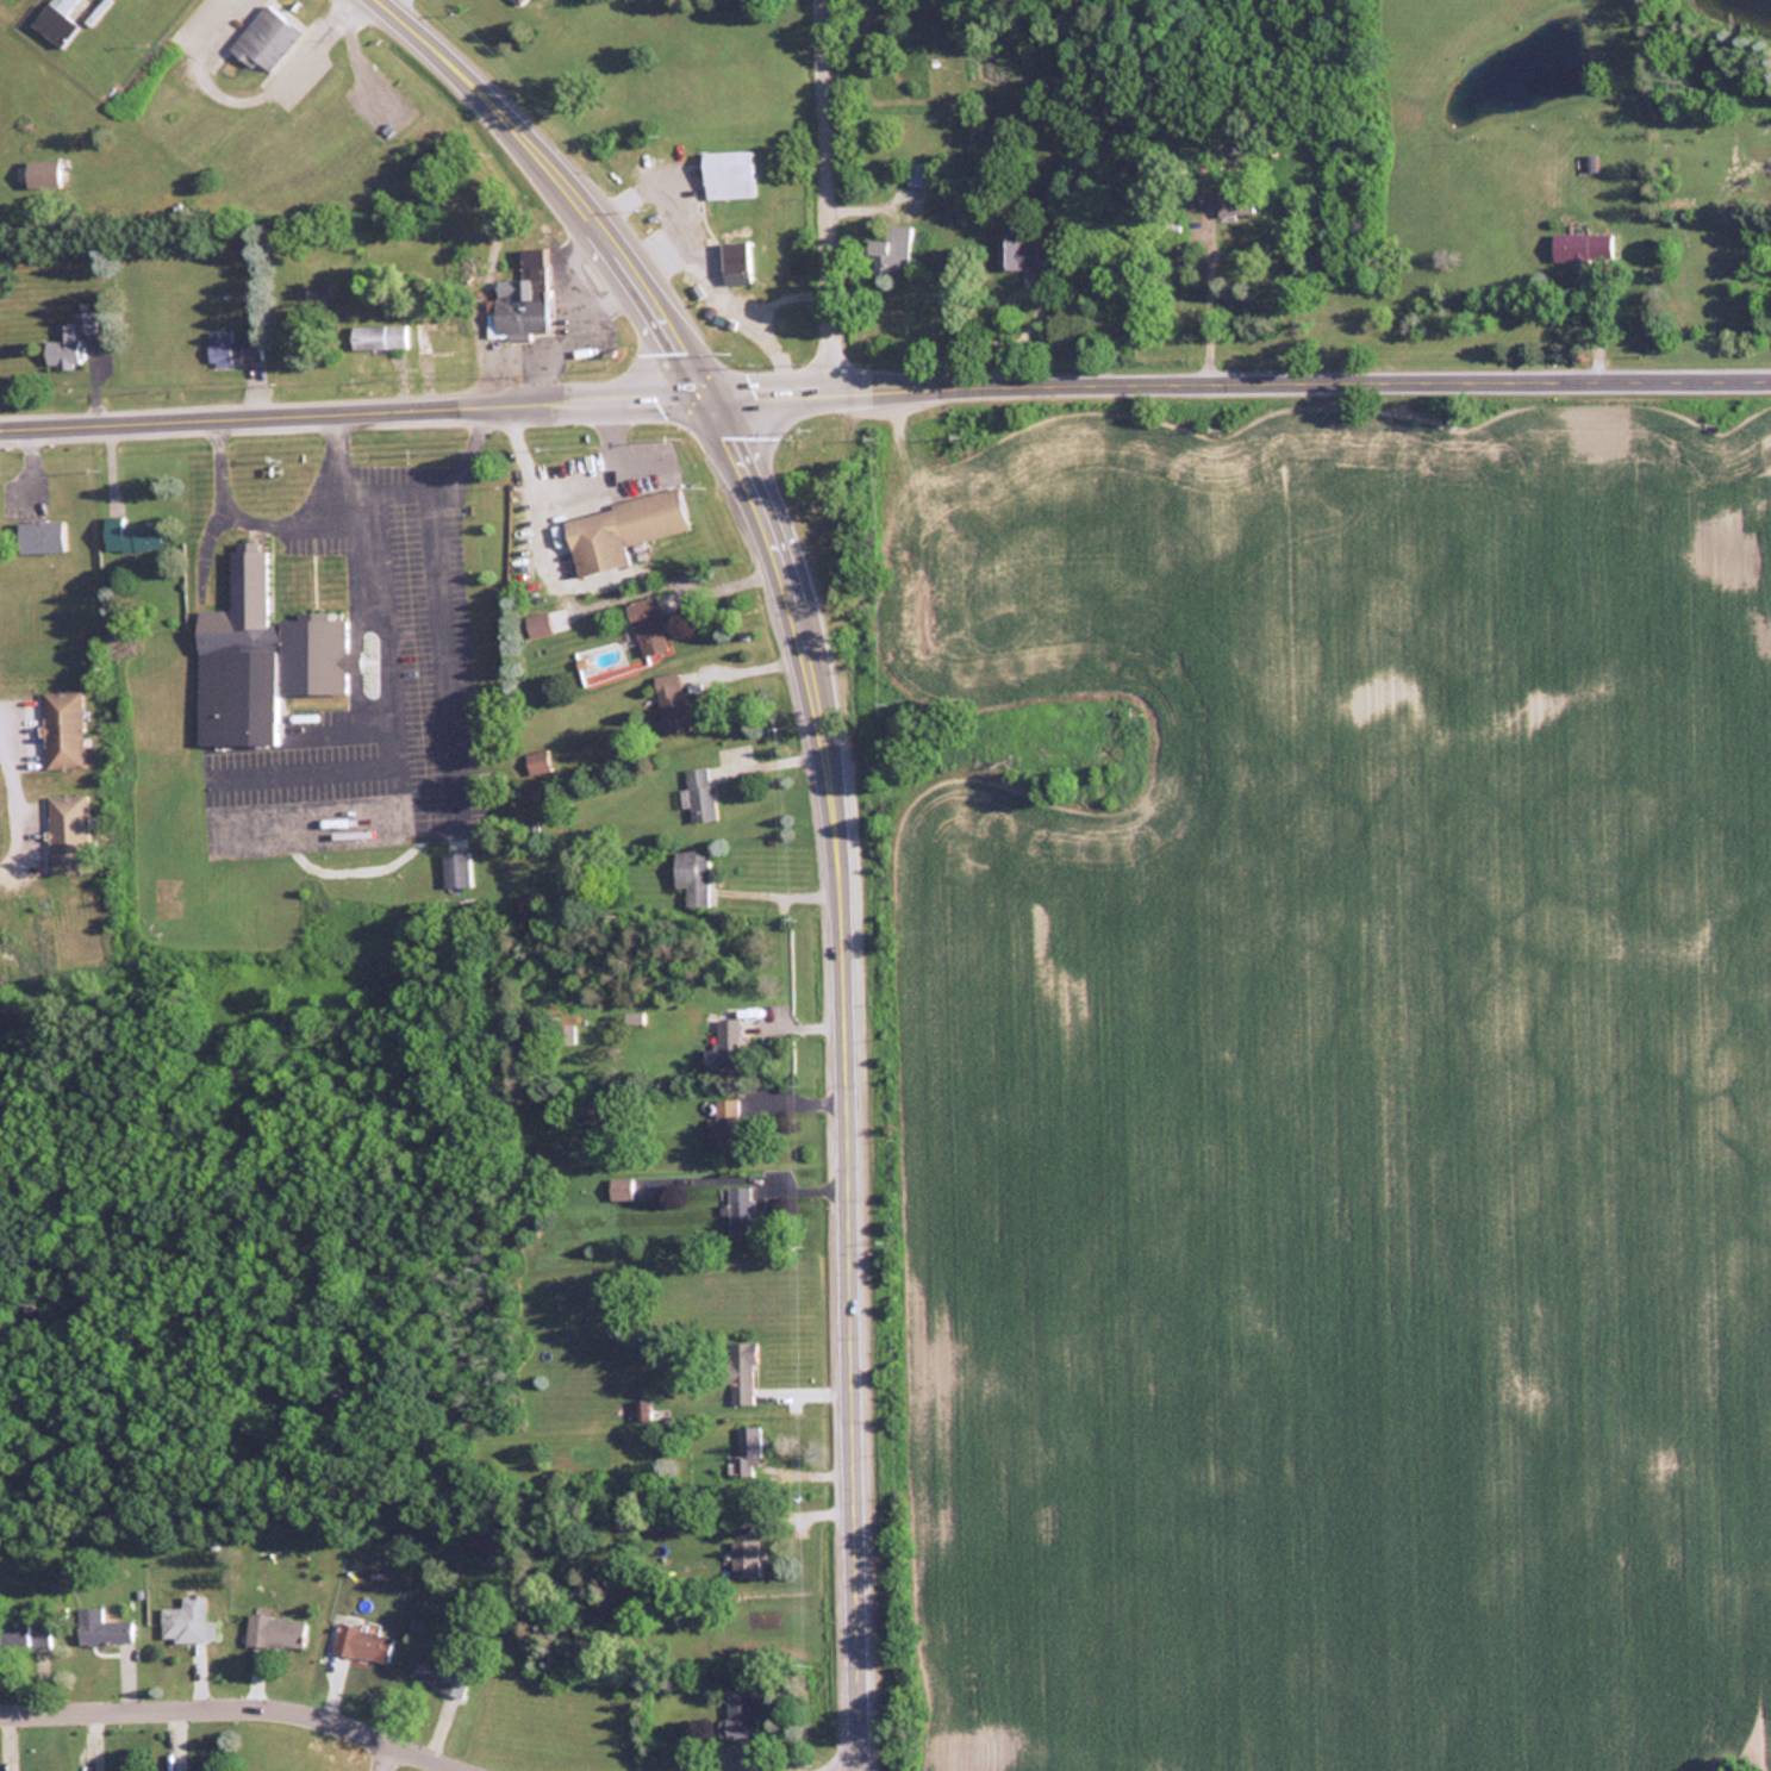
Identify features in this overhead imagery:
building: (518, 1)
building: (54, 20)
building: (263, 37)
road: (244, 92)
building: (39, 172)
building: (916, 172)
building: (728, 173)
road: (833, 191)
building: (1231, 200)
building: (1580, 247)
building: (890, 249)
building: (1022, 252)
building: (519, 297)
building: (378, 336)
building: (68, 339)
building: (231, 347)
road: (884, 380)
road: (436, 489)
road: (278, 522)
building: (619, 529)
building: (127, 535)
building: (39, 536)
building: (536, 623)
building: (646, 624)
building: (258, 659)
building: (669, 701)
building: (295, 723)
building: (61, 729)
building: (535, 762)
building: (699, 793)
road: (840, 813)
road: (426, 819)
building: (66, 833)
building: (454, 867)
building: (688, 877)
building: (722, 1047)
building: (723, 1123)
building: (631, 1186)
building: (738, 1208)
building: (738, 1371)
building: (641, 1408)
building: (747, 1449)
building: (482, 1535)
building: (741, 1557)
building: (186, 1620)
building: (100, 1626)
building: (273, 1630)
building: (26, 1632)
building: (361, 1642)
building: (438, 1672)
road: (249, 1703)
building: (737, 1710)
road: (381, 1754)
road: (848, 1769)

